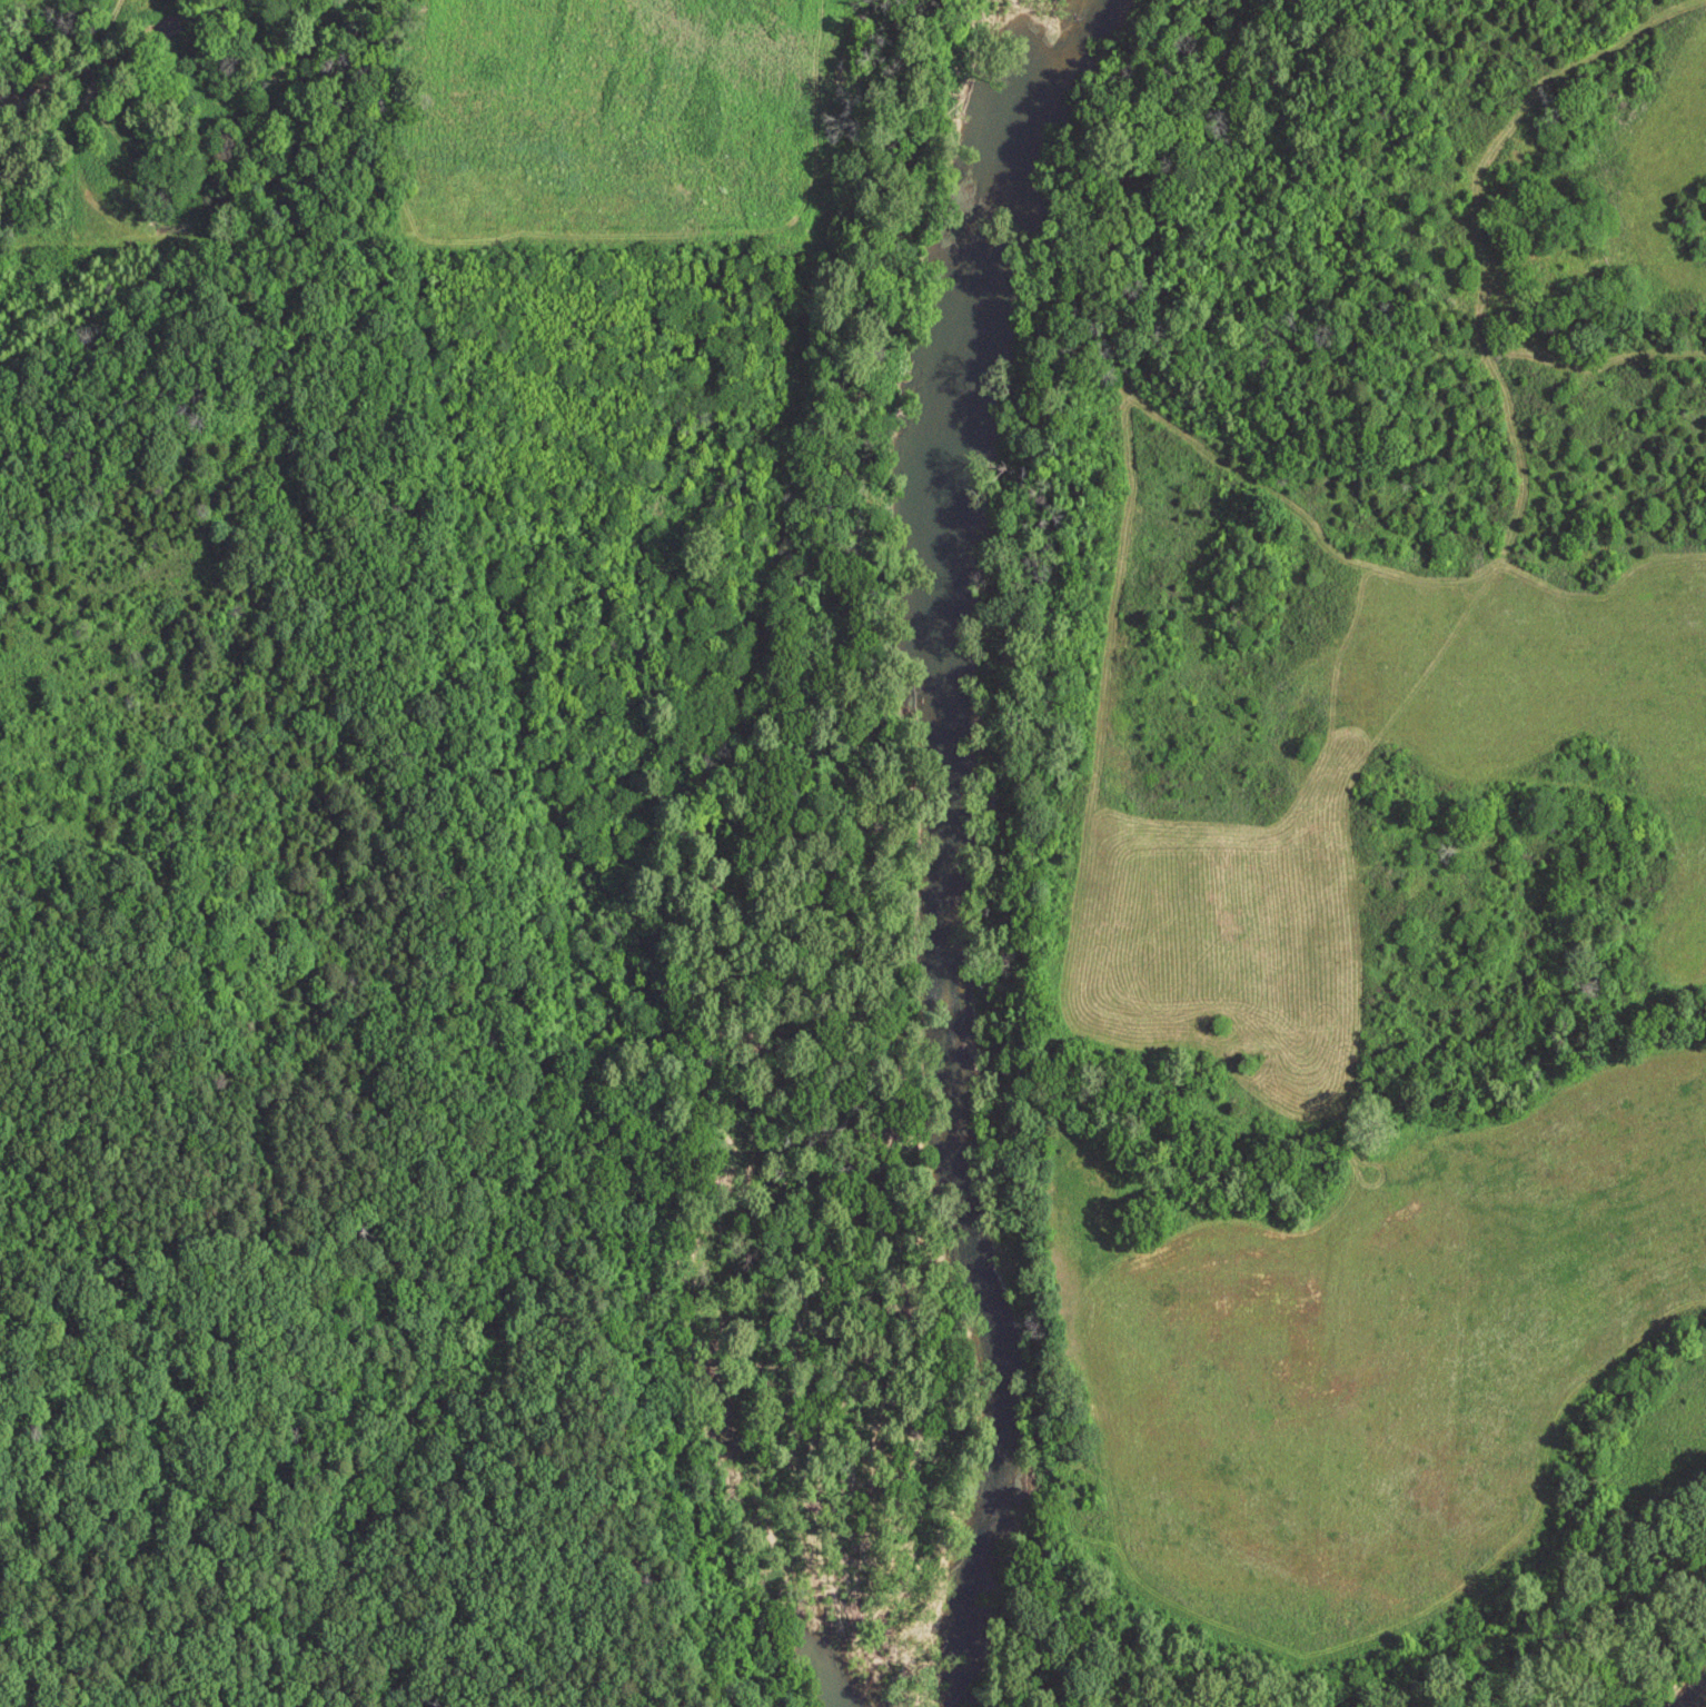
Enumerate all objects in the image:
road: (67, 140)
river: (940, 836)
river: (1702, 1704)

